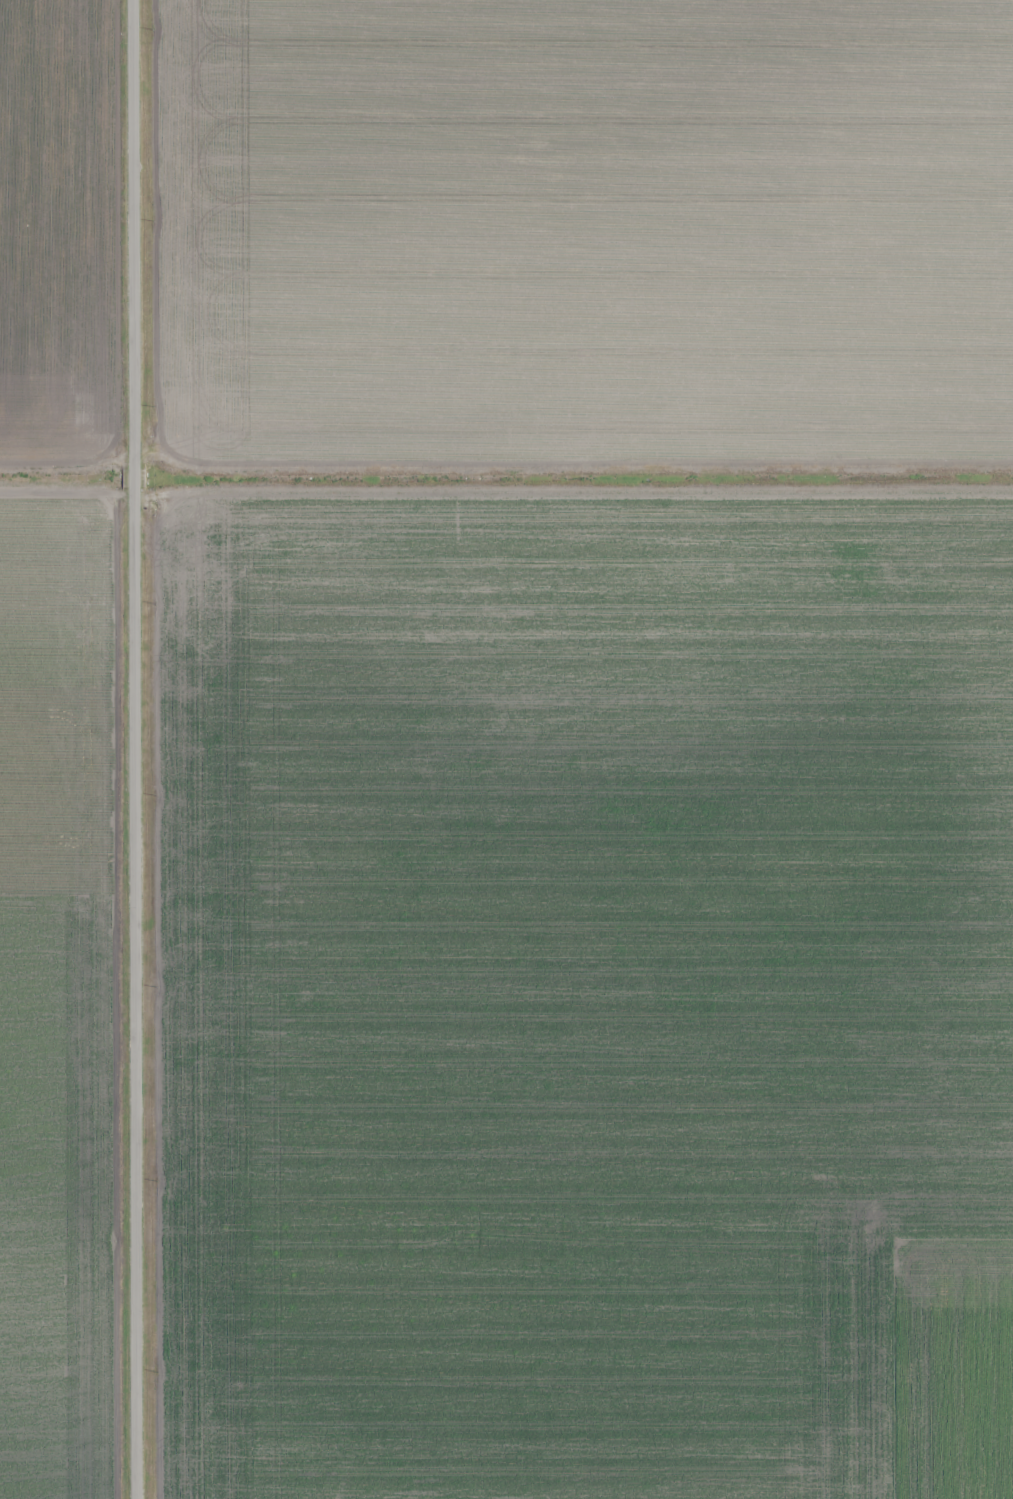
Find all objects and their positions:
road: (133, 749)

